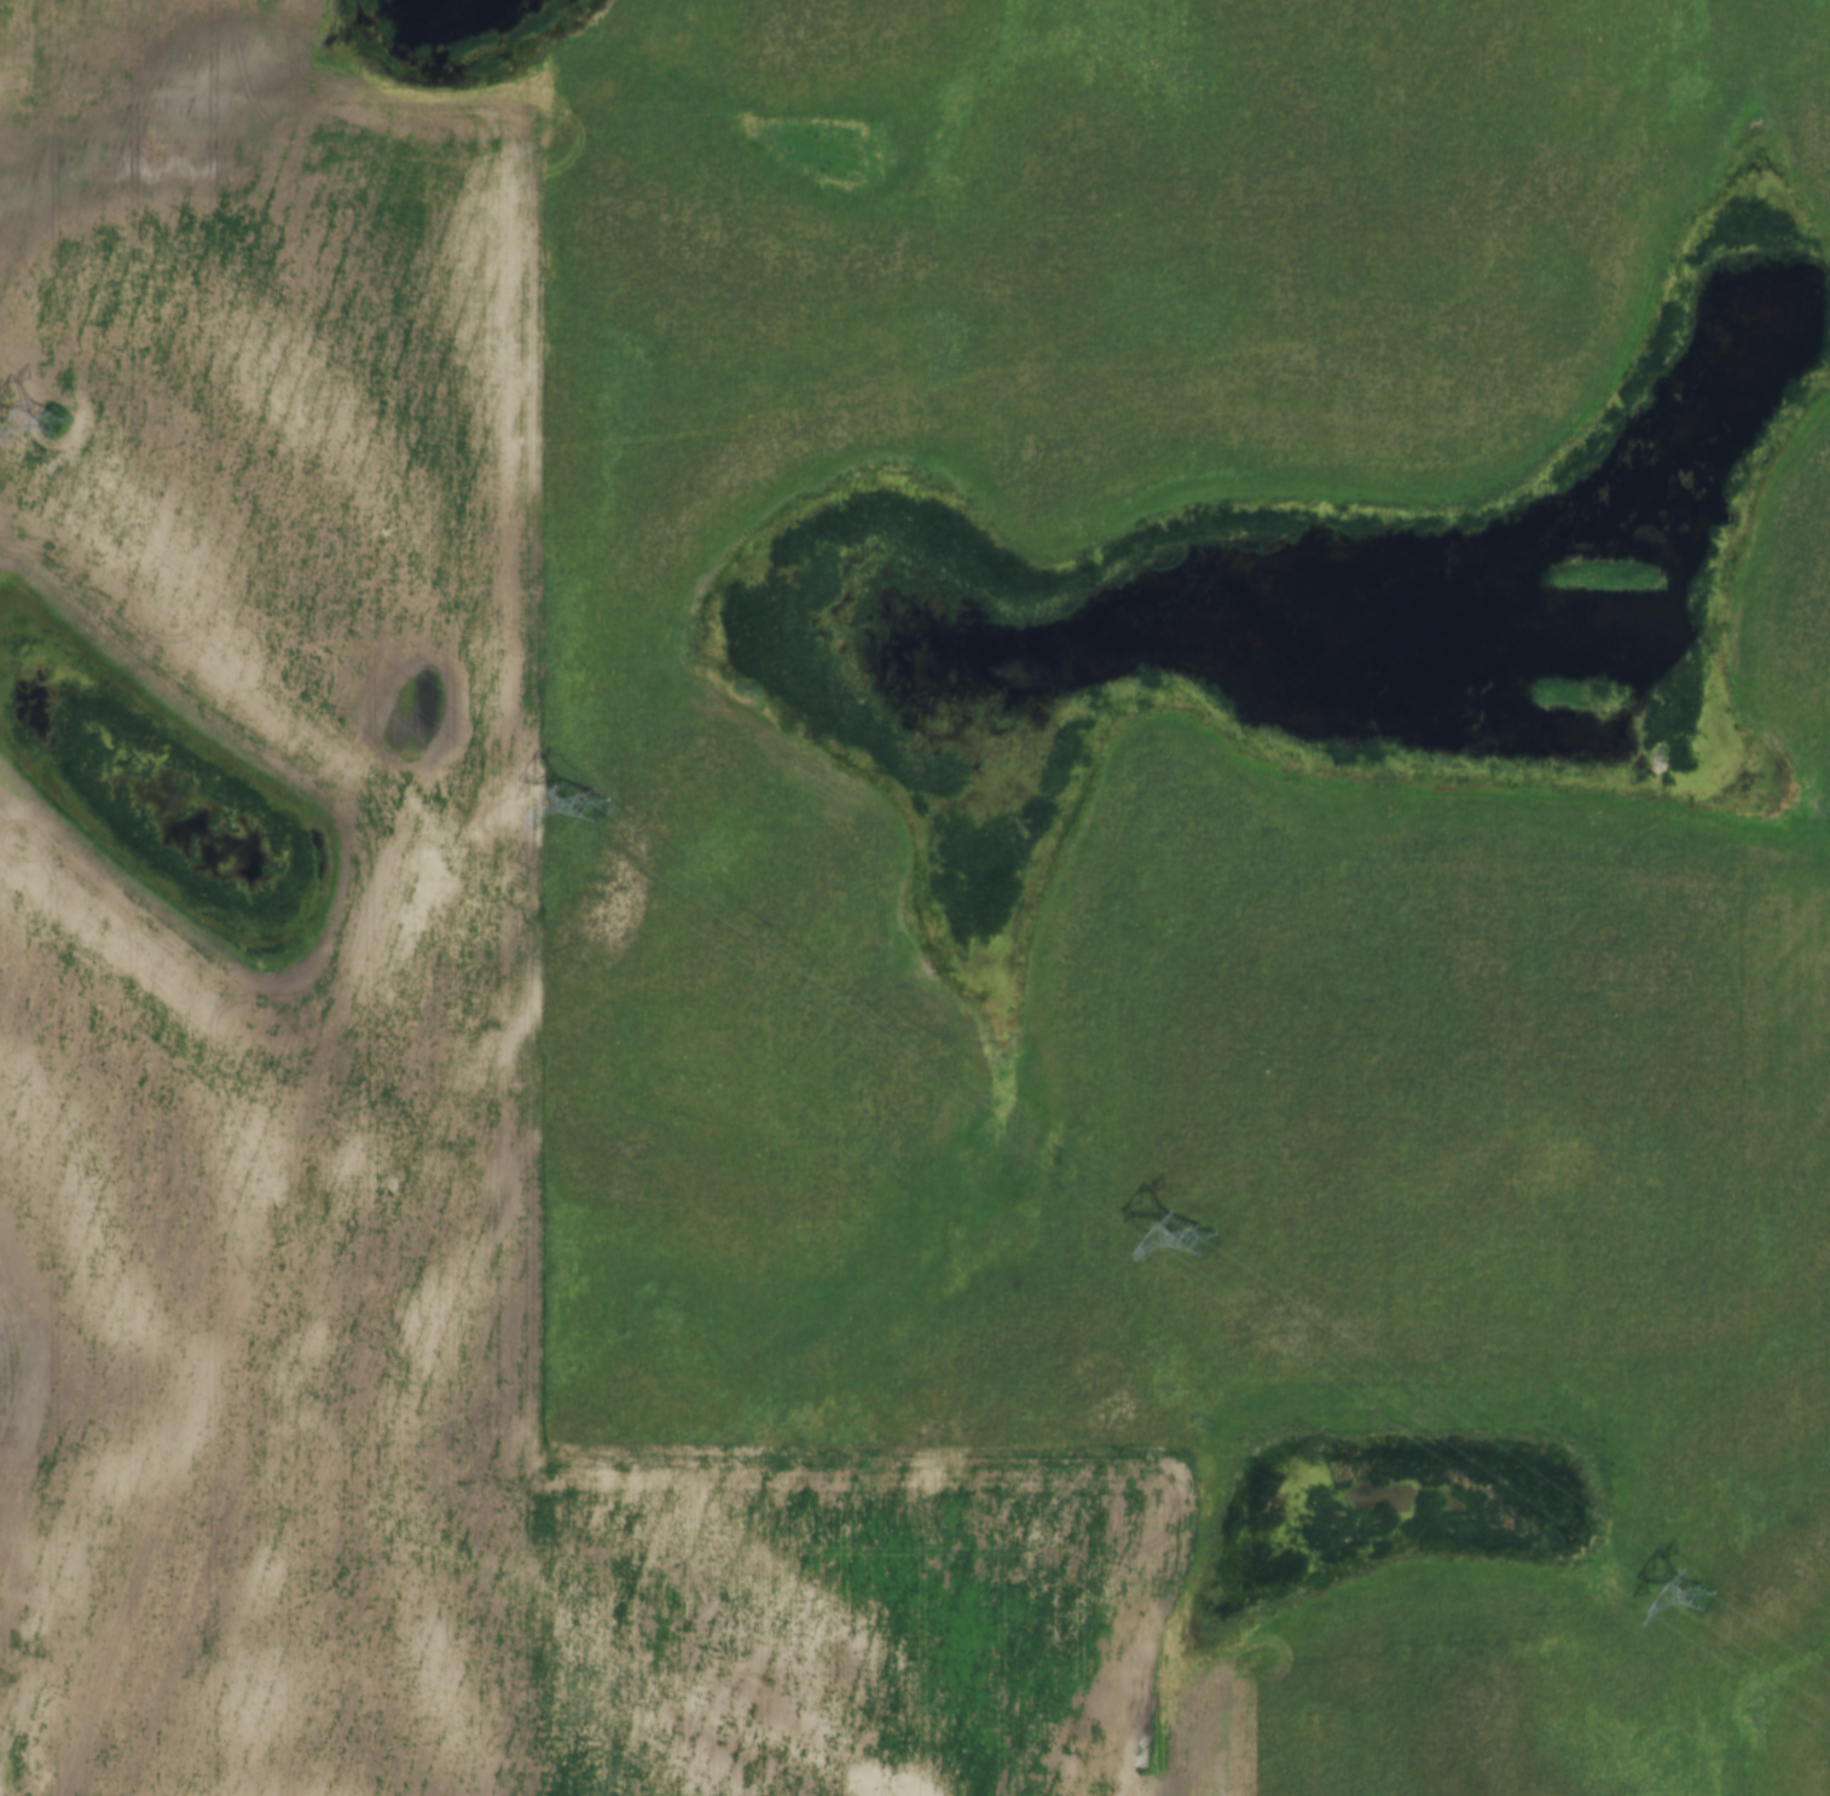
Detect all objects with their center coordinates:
power tower: (56, 423)
power tower: (621, 823)
power tower: (1228, 1258)
power tower: (1701, 1598)

